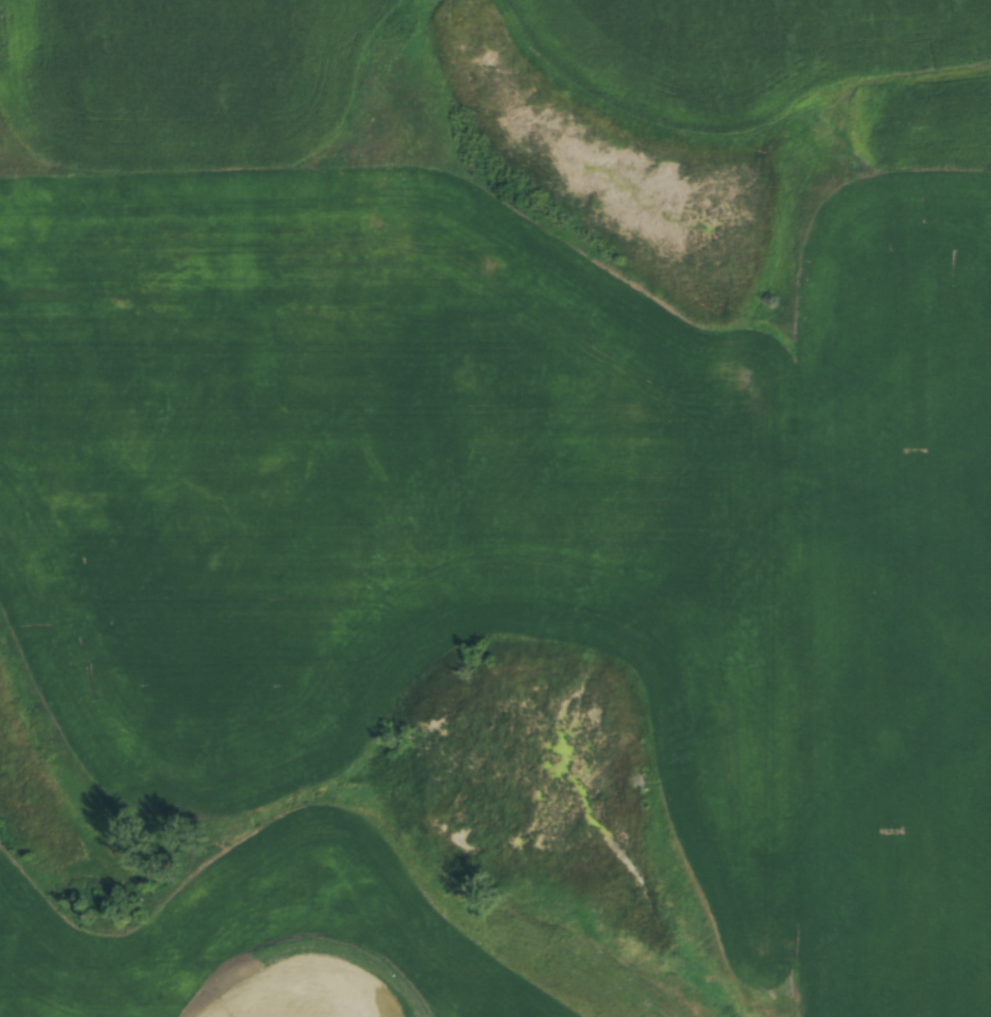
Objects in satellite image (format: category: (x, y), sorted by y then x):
river: (64, 847)
river: (508, 851)

